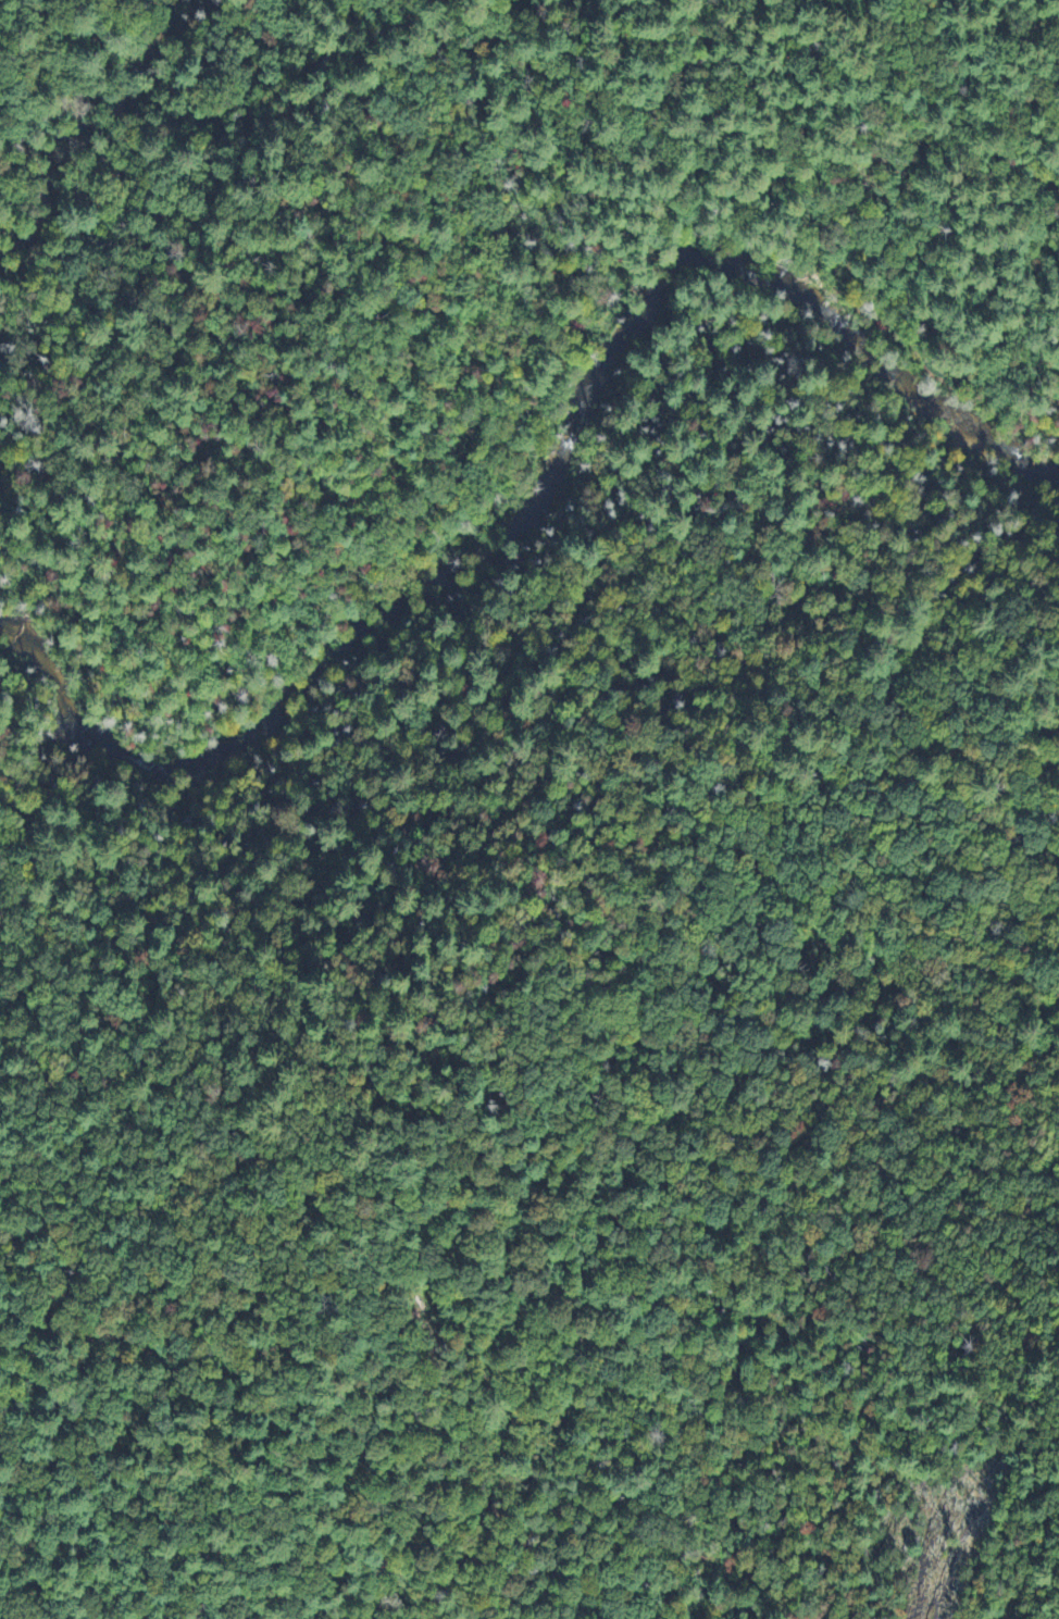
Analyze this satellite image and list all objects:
river: (531, 476)

